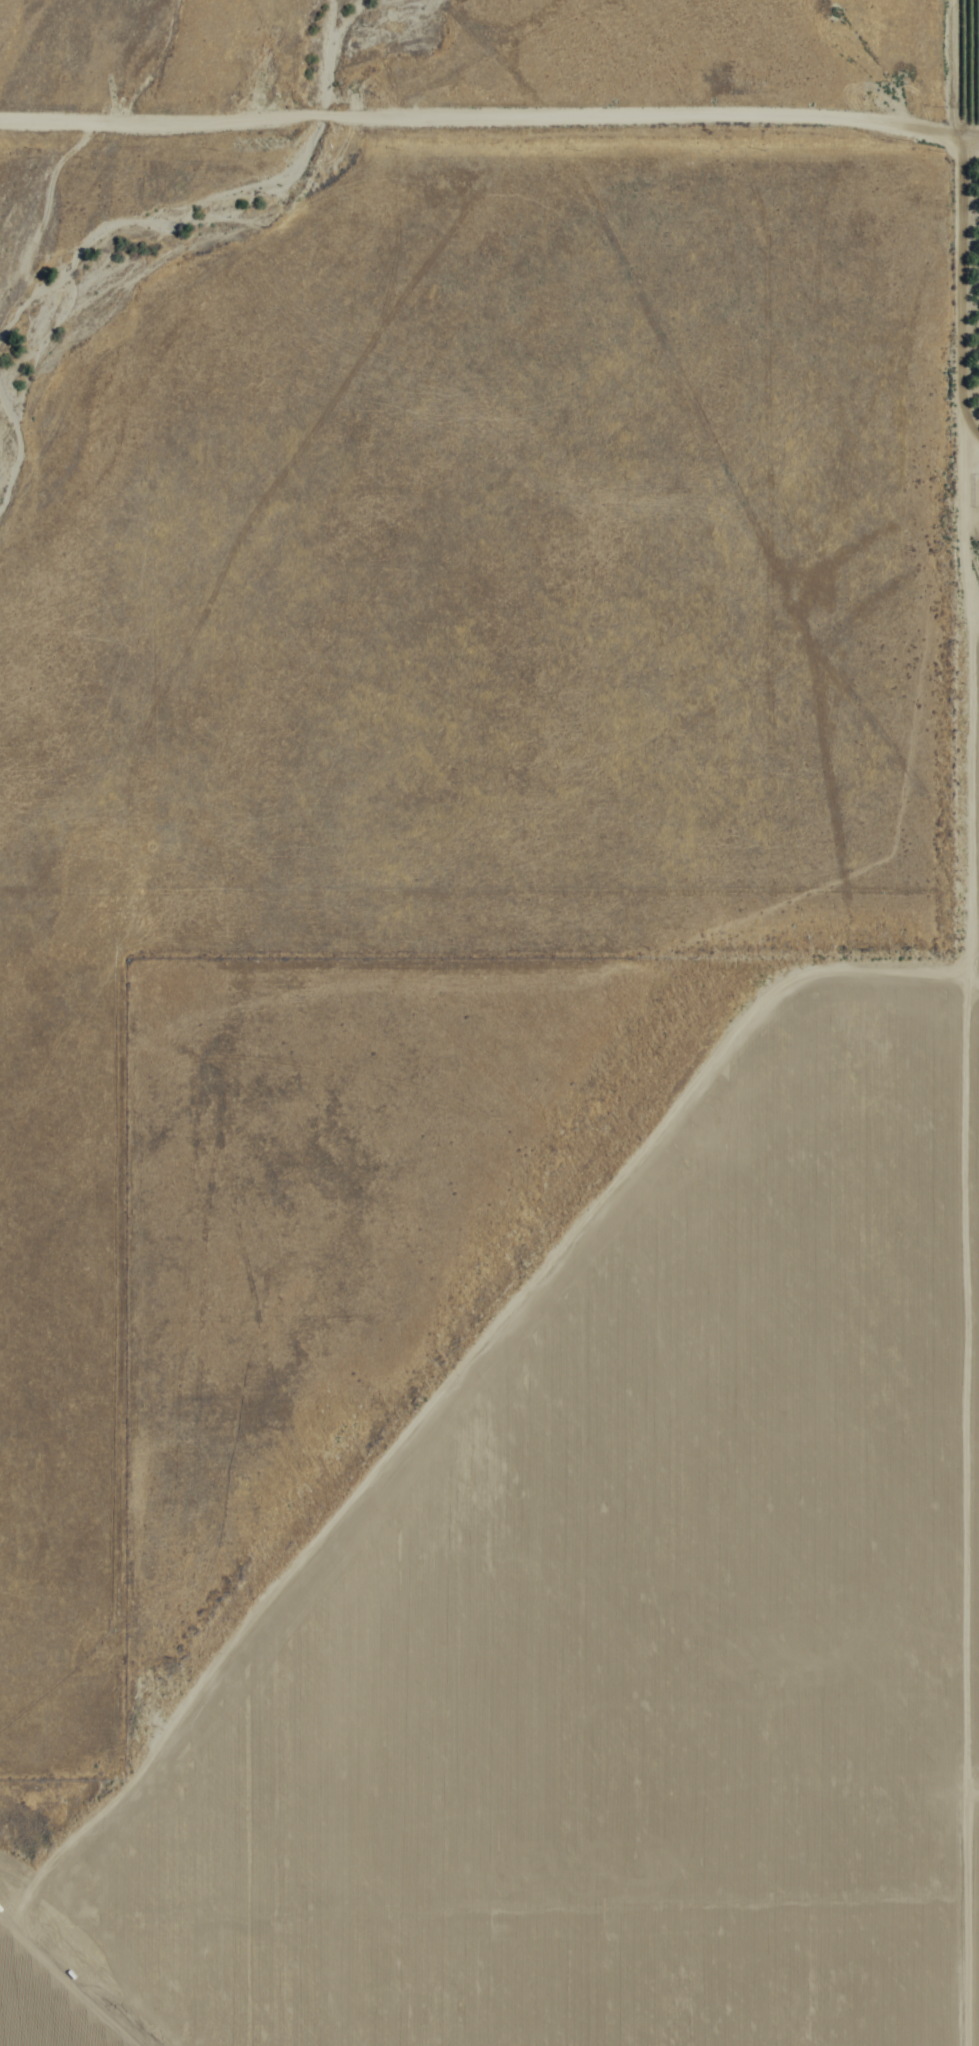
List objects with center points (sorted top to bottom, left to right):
crop: (969, 67)
road: (914, 85)
crop: (681, 1596)

